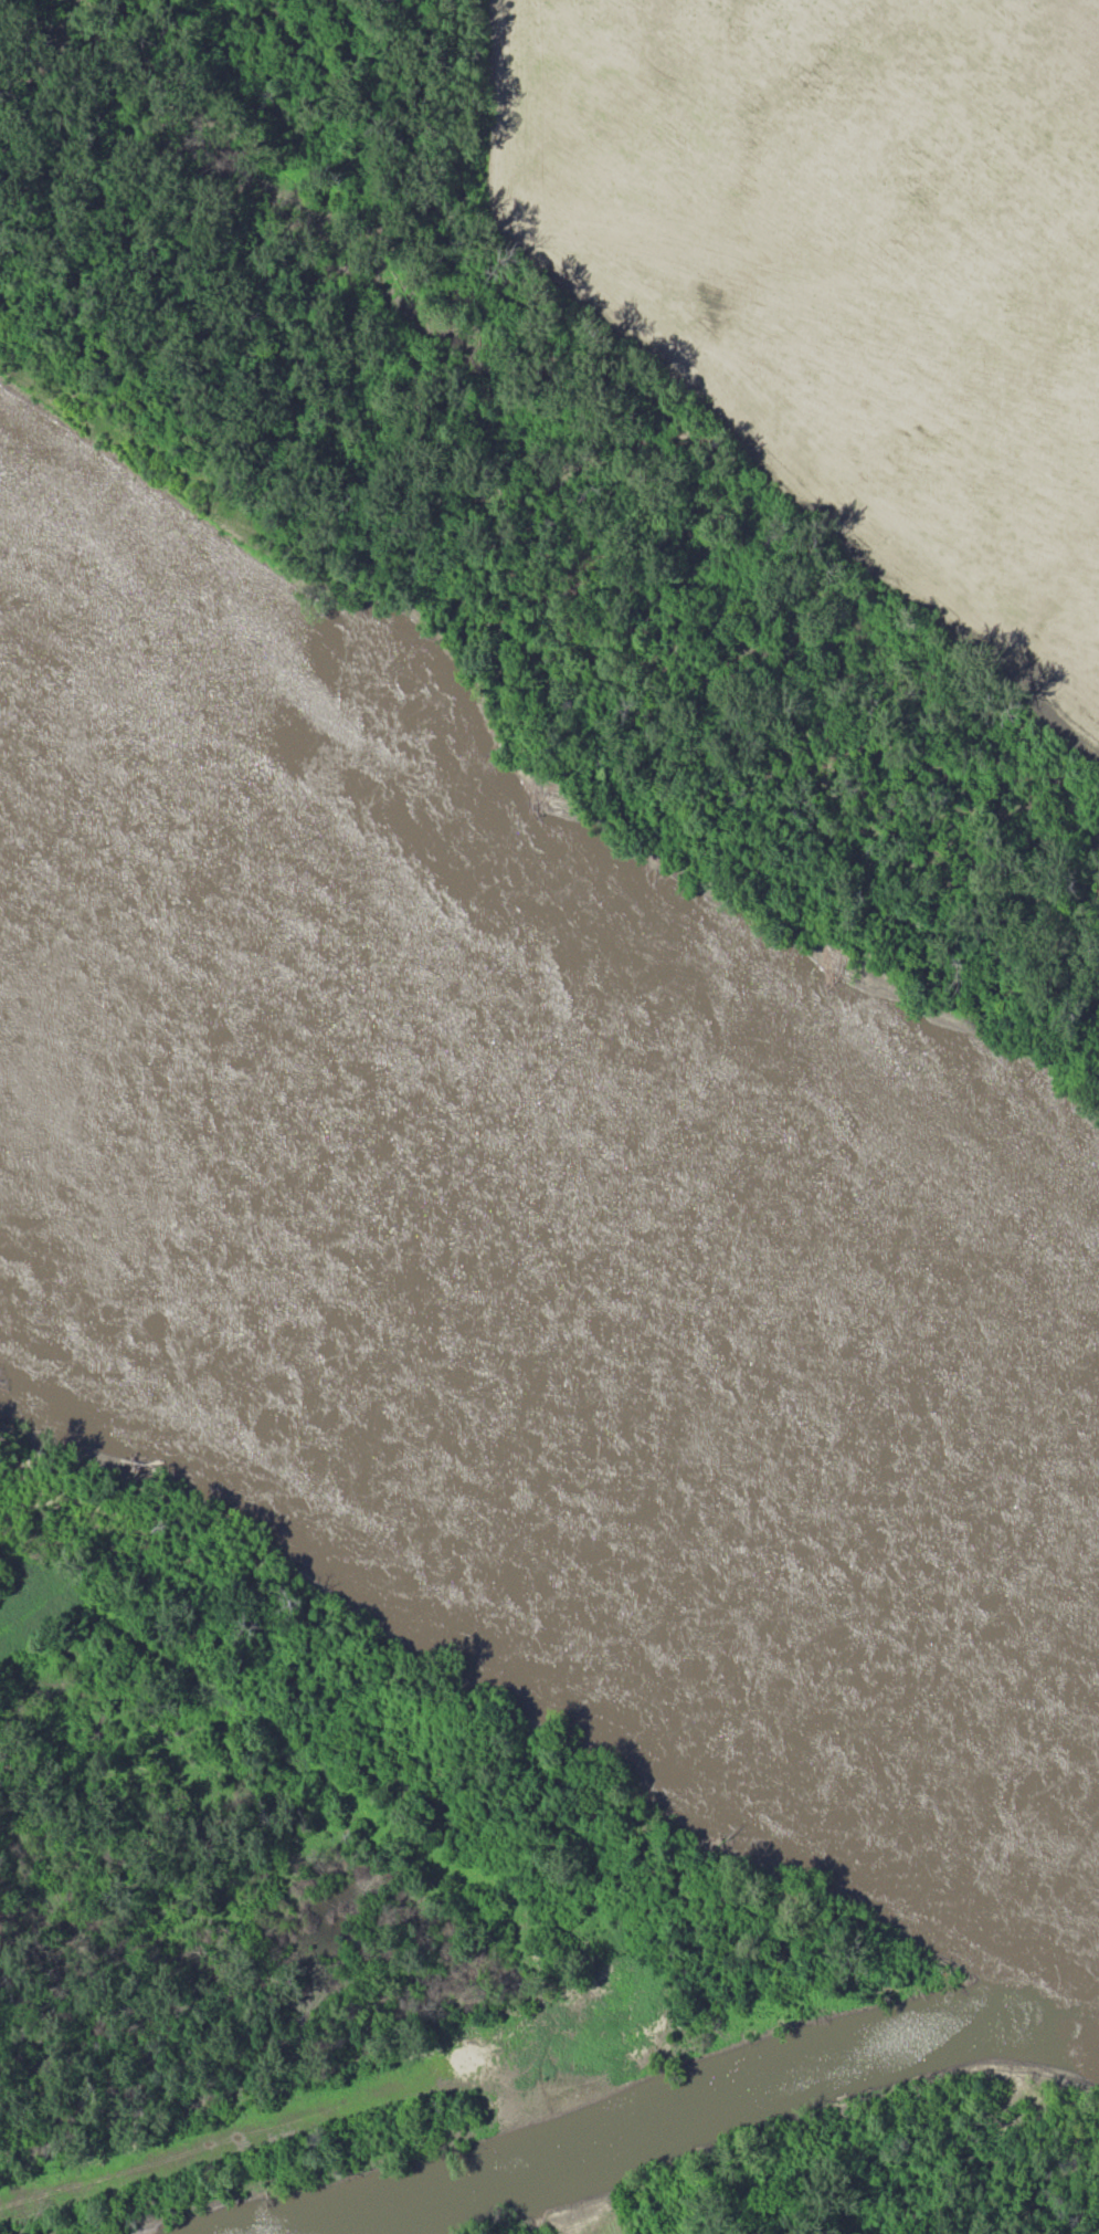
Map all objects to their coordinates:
road: (486, 107)
river: (542, 1249)
river: (718, 2114)

